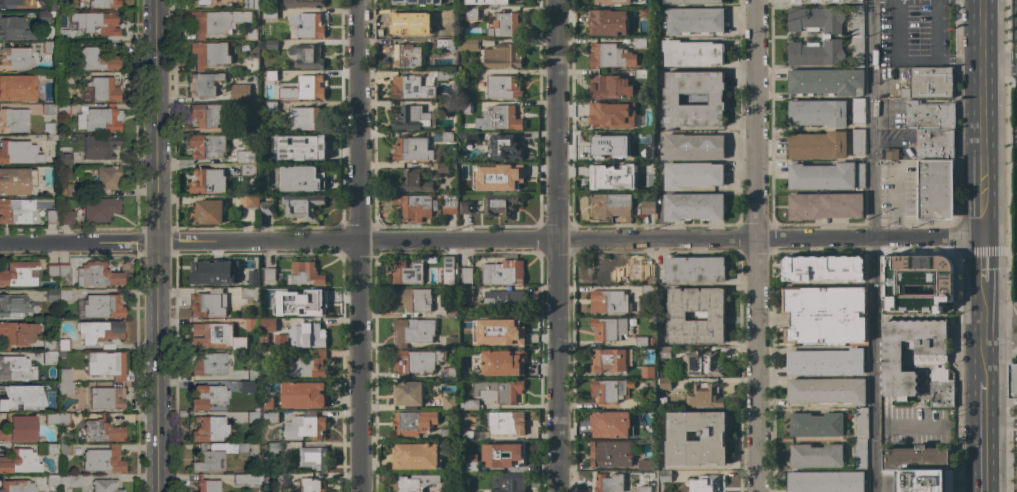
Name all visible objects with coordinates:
building: (198, 1)
building: (612, 1)
building: (694, 1)
building: (824, 1)
building: (416, 2)
building: (104, 3)
building: (302, 3)
building: (501, 3)
building: (17, 4)
building: (53, 4)
building: (249, 4)
building: (446, 13)
building: (470, 13)
building: (645, 13)
building: (269, 14)
building: (44, 15)
building: (694, 21)
building: (607, 22)
building: (96, 23)
building: (222, 23)
building: (306, 25)
building: (409, 25)
building: (504, 26)
building: (14, 29)
road: (934, 30)
building: (826, 36)
building: (857, 36)
building: (61, 42)
building: (487, 42)
building: (639, 42)
building: (445, 44)
building: (468, 44)
building: (271, 45)
building: (245, 47)
road: (895, 47)
building: (209, 53)
building: (692, 53)
building: (306, 55)
building: (406, 56)
building: (611, 56)
building: (501, 57)
building: (15, 58)
building: (94, 59)
road: (998, 59)
road: (956, 60)
building: (251, 64)
building: (644, 74)
road: (998, 74)
building: (441, 75)
building: (468, 75)
building: (271, 76)
building: (67, 77)
building: (826, 82)
building: (203, 83)
building: (928, 83)
building: (609, 86)
building: (17, 87)
building: (310, 87)
building: (503, 87)
building: (410, 88)
building: (103, 89)
building: (238, 96)
building: (672, 100)
building: (640, 104)
building: (442, 105)
building: (271, 106)
building: (49, 108)
building: (64, 108)
building: (464, 108)
building: (858, 111)
building: (817, 113)
building: (210, 114)
building: (928, 115)
building: (411, 117)
building: (305, 118)
building: (499, 118)
building: (610, 118)
road: (980, 118)
building: (100, 119)
road: (757, 119)
building: (13, 120)
road: (360, 120)
road: (557, 120)
road: (158, 121)
building: (249, 126)
building: (49, 127)
building: (640, 135)
building: (443, 136)
building: (51, 137)
building: (468, 137)
building: (858, 142)
building: (934, 144)
building: (818, 145)
building: (207, 146)
building: (693, 146)
building: (101, 147)
building: (298, 147)
building: (504, 147)
building: (603, 148)
building: (412, 149)
building: (21, 152)
building: (890, 153)
building: (246, 156)
building: (64, 157)
building: (470, 167)
building: (271, 168)
building: (440, 168)
building: (246, 170)
building: (692, 175)
building: (612, 176)
building: (826, 176)
building: (108, 178)
building: (16, 180)
building: (300, 180)
building: (506, 180)
building: (208, 181)
building: (412, 181)
building: (73, 189)
building: (935, 189)
building: (61, 191)
building: (252, 201)
building: (449, 204)
building: (612, 204)
building: (500, 205)
building: (825, 205)
building: (302, 206)
building: (415, 207)
building: (465, 207)
building: (648, 207)
building: (693, 207)
building: (99, 208)
building: (266, 208)
building: (14, 210)
building: (206, 212)
building: (51, 216)
building: (68, 217)
road: (570, 239)
road: (79, 243)
road: (875, 245)
building: (823, 268)
building: (52, 269)
building: (63, 269)
building: (694, 269)
building: (211, 271)
building: (446, 271)
building: (251, 272)
building: (503, 272)
building: (603, 272)
building: (19, 273)
building: (304, 273)
building: (407, 273)
building: (97, 274)
building: (269, 274)
building: (647, 274)
building: (466, 275)
building: (907, 286)
building: (647, 290)
building: (249, 293)
building: (268, 293)
building: (465, 293)
building: (51, 294)
building: (65, 294)
building: (413, 299)
building: (501, 301)
building: (608, 302)
building: (208, 303)
building: (14, 305)
building: (102, 305)
building: (310, 305)
road: (982, 308)
building: (451, 311)
road: (999, 311)
building: (824, 314)
building: (717, 316)
building: (269, 324)
building: (251, 326)
building: (505, 328)
building: (608, 328)
building: (99, 331)
building: (413, 331)
building: (18, 333)
building: (307, 335)
building: (215, 336)
building: (451, 342)
building: (640, 342)
building: (652, 342)
building: (473, 343)
road: (999, 343)
building: (49, 344)
building: (64, 344)
building: (665, 352)
building: (268, 354)
building: (50, 355)
building: (610, 360)
building: (930, 360)
building: (415, 362)
building: (825, 362)
building: (209, 363)
building: (502, 363)
building: (107, 364)
building: (701, 364)
road: (558, 365)
road: (759, 365)
road: (361, 366)
road: (159, 367)
building: (304, 367)
building: (15, 368)
building: (68, 371)
building: (647, 372)
building: (451, 373)
road: (958, 373)
building: (253, 374)
building: (1014, 382)
building: (664, 383)
building: (248, 385)
building: (50, 387)
building: (67, 387)
building: (272, 387)
building: (496, 390)
building: (610, 390)
building: (826, 390)
building: (940, 392)
building: (303, 395)
building: (407, 395)
building: (208, 396)
building: (704, 397)
building: (105, 398)
building: (13, 399)
building: (449, 402)
building: (266, 403)
building: (473, 403)
building: (644, 403)
road: (1012, 405)
building: (253, 416)
building: (269, 417)
building: (58, 418)
building: (506, 423)
building: (861, 423)
road: (999, 423)
building: (406, 424)
building: (610, 424)
building: (816, 425)
building: (303, 427)
road: (932, 427)
building: (19, 428)
building: (209, 428)
building: (103, 431)
building: (446, 434)
building: (466, 435)
road: (982, 436)
building: (713, 438)
building: (275, 447)
building: (52, 448)
building: (65, 448)
building: (860, 453)
building: (512, 454)
building: (610, 454)
building: (216, 456)
building: (416, 456)
building: (816, 456)
building: (313, 458)
building: (918, 458)
building: (103, 459)
parking lot: (1014, 459)
building: (471, 460)
building: (19, 461)
building: (645, 464)
building: (665, 476)
building: (247, 478)
building: (52, 479)
building: (70, 479)
building: (922, 480)
building: (271, 481)
building: (412, 482)
building: (825, 482)
building: (511, 483)
building: (609, 483)
building: (704, 484)
building: (105, 485)
building: (207, 485)
building: (311, 485)
building: (17, 486)
building: (643, 489)
building: (447, 491)

